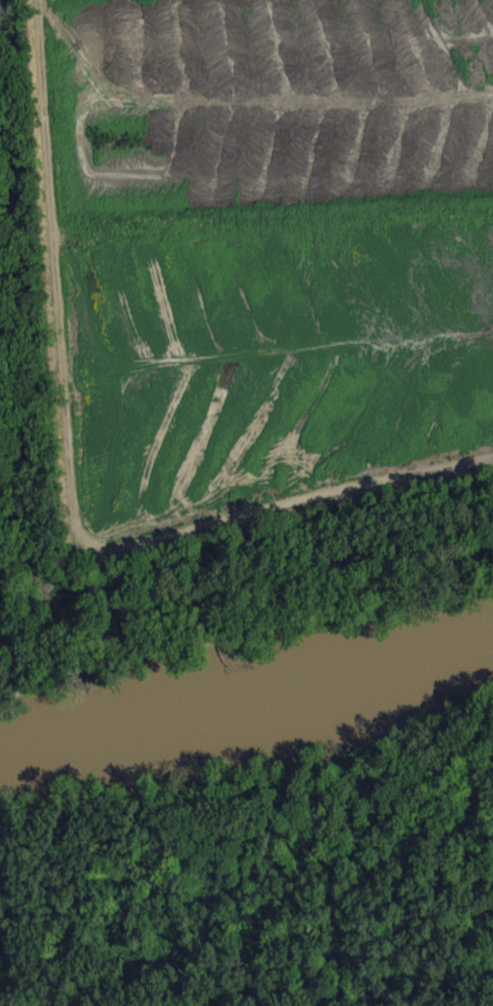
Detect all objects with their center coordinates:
road: (72, 480)
park: (10, 481)
road: (230, 552)
road: (9, 576)
river: (245, 721)

